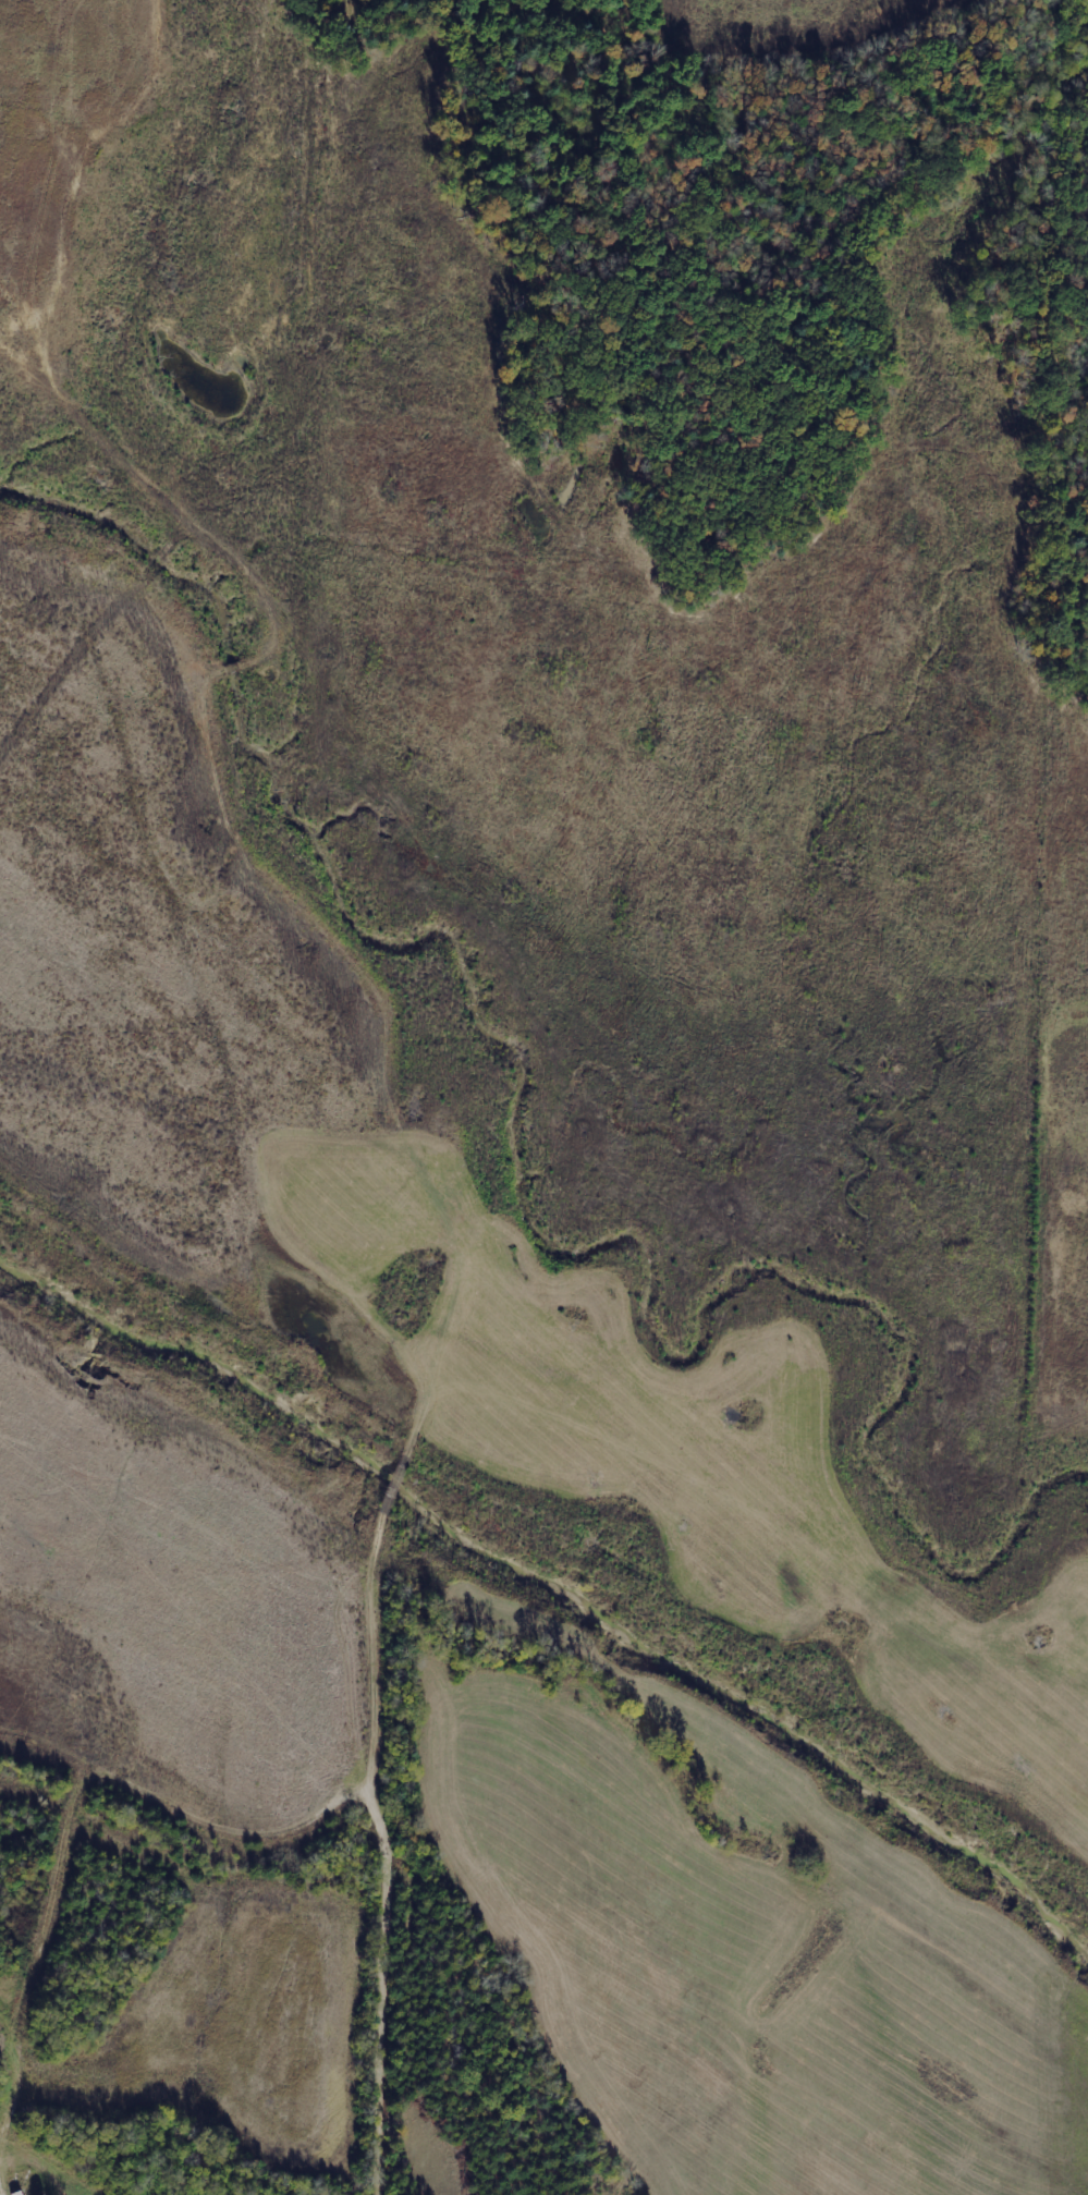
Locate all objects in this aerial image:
building: (0, 2027)
road: (7, 2186)
building: (21, 2193)

